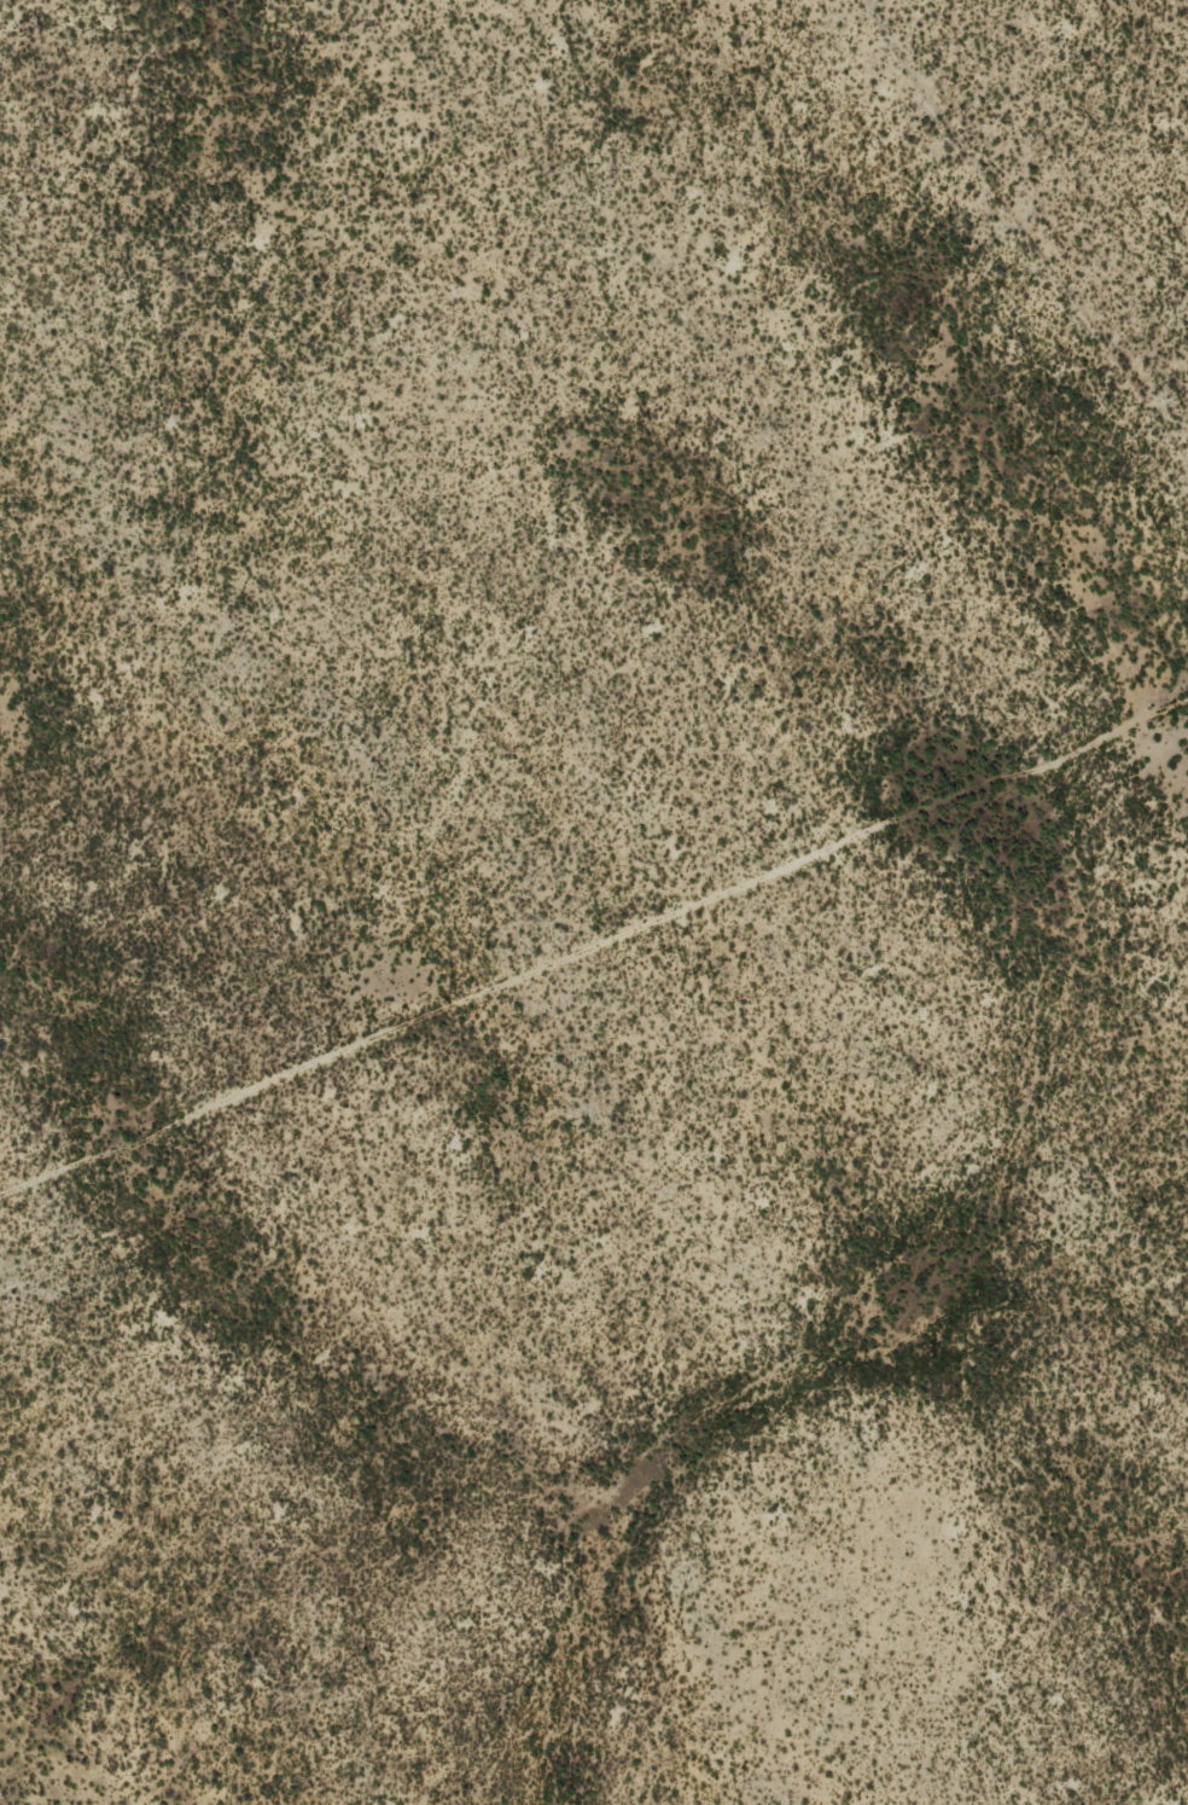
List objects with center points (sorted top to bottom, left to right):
road: (1024, 225)
road: (592, 939)

